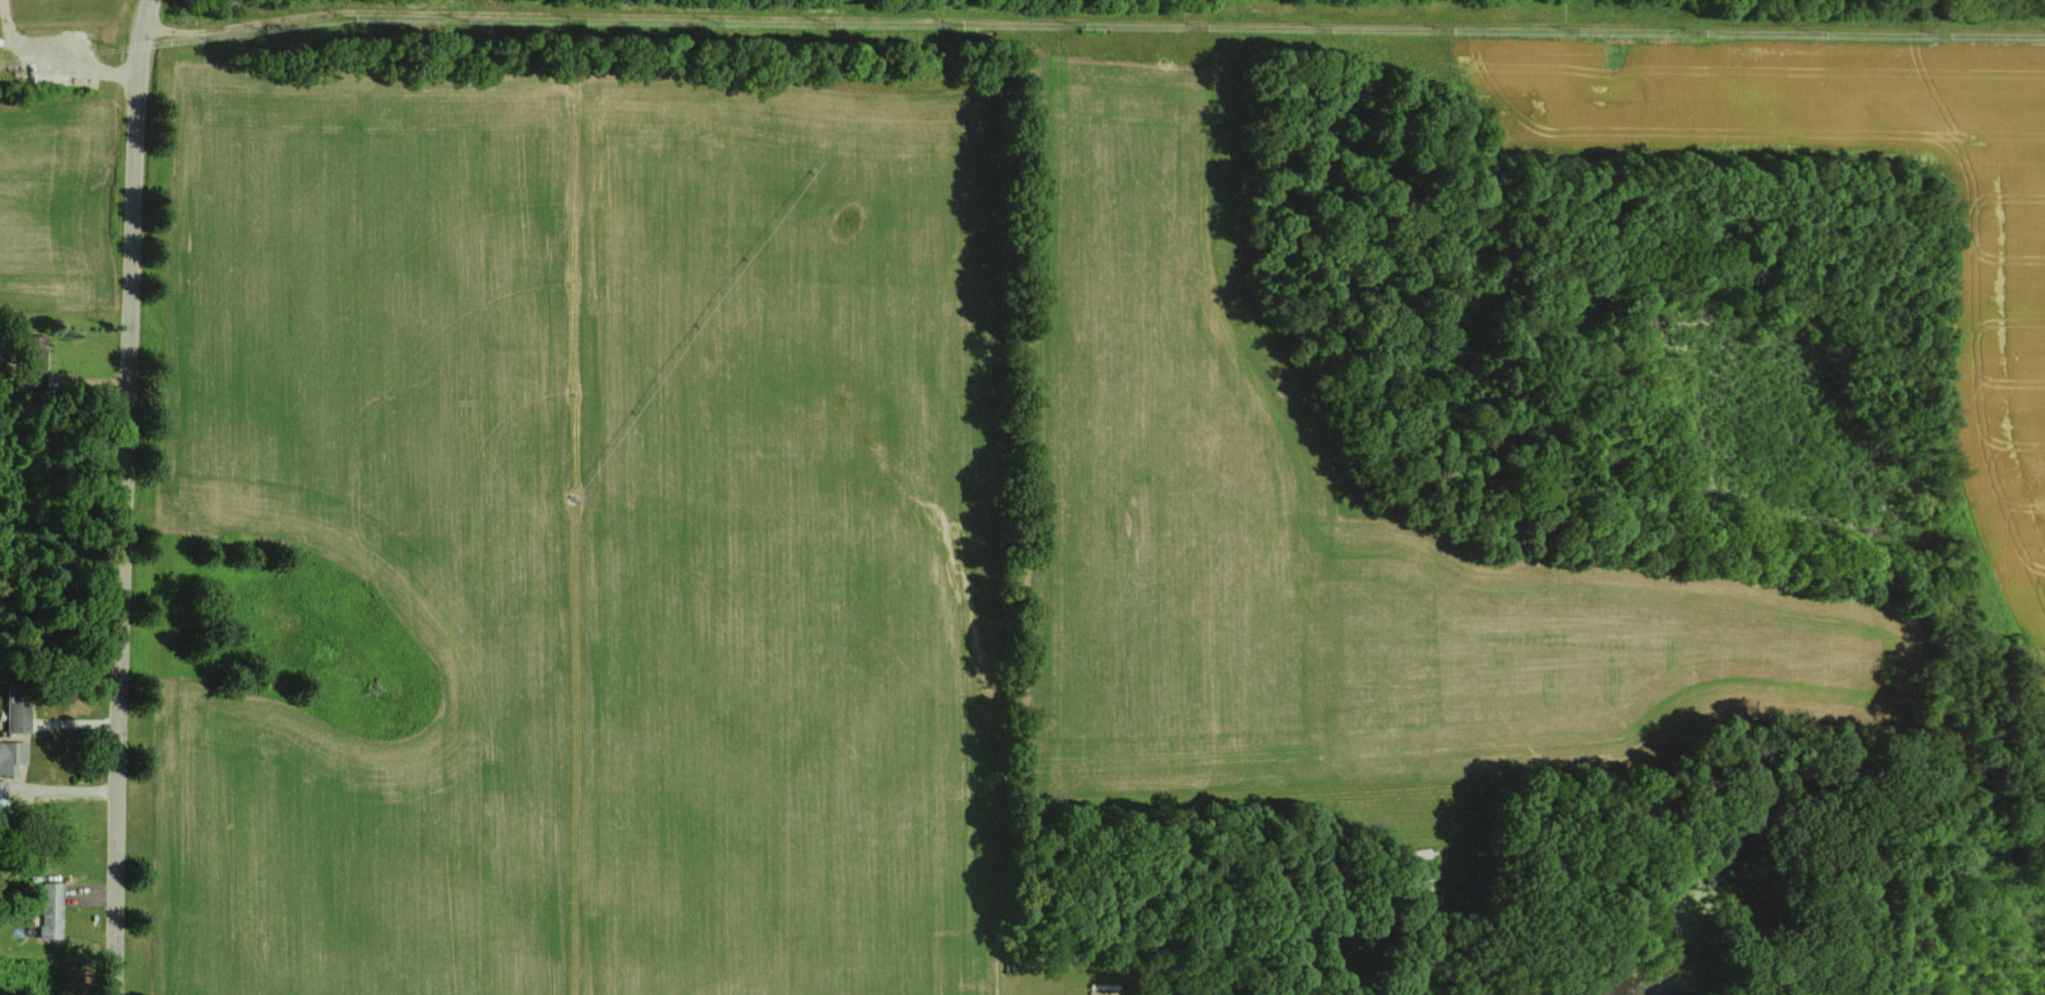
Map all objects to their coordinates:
road: (118, 496)
building: (18, 712)
building: (12, 757)
road: (65, 789)
building: (51, 910)

